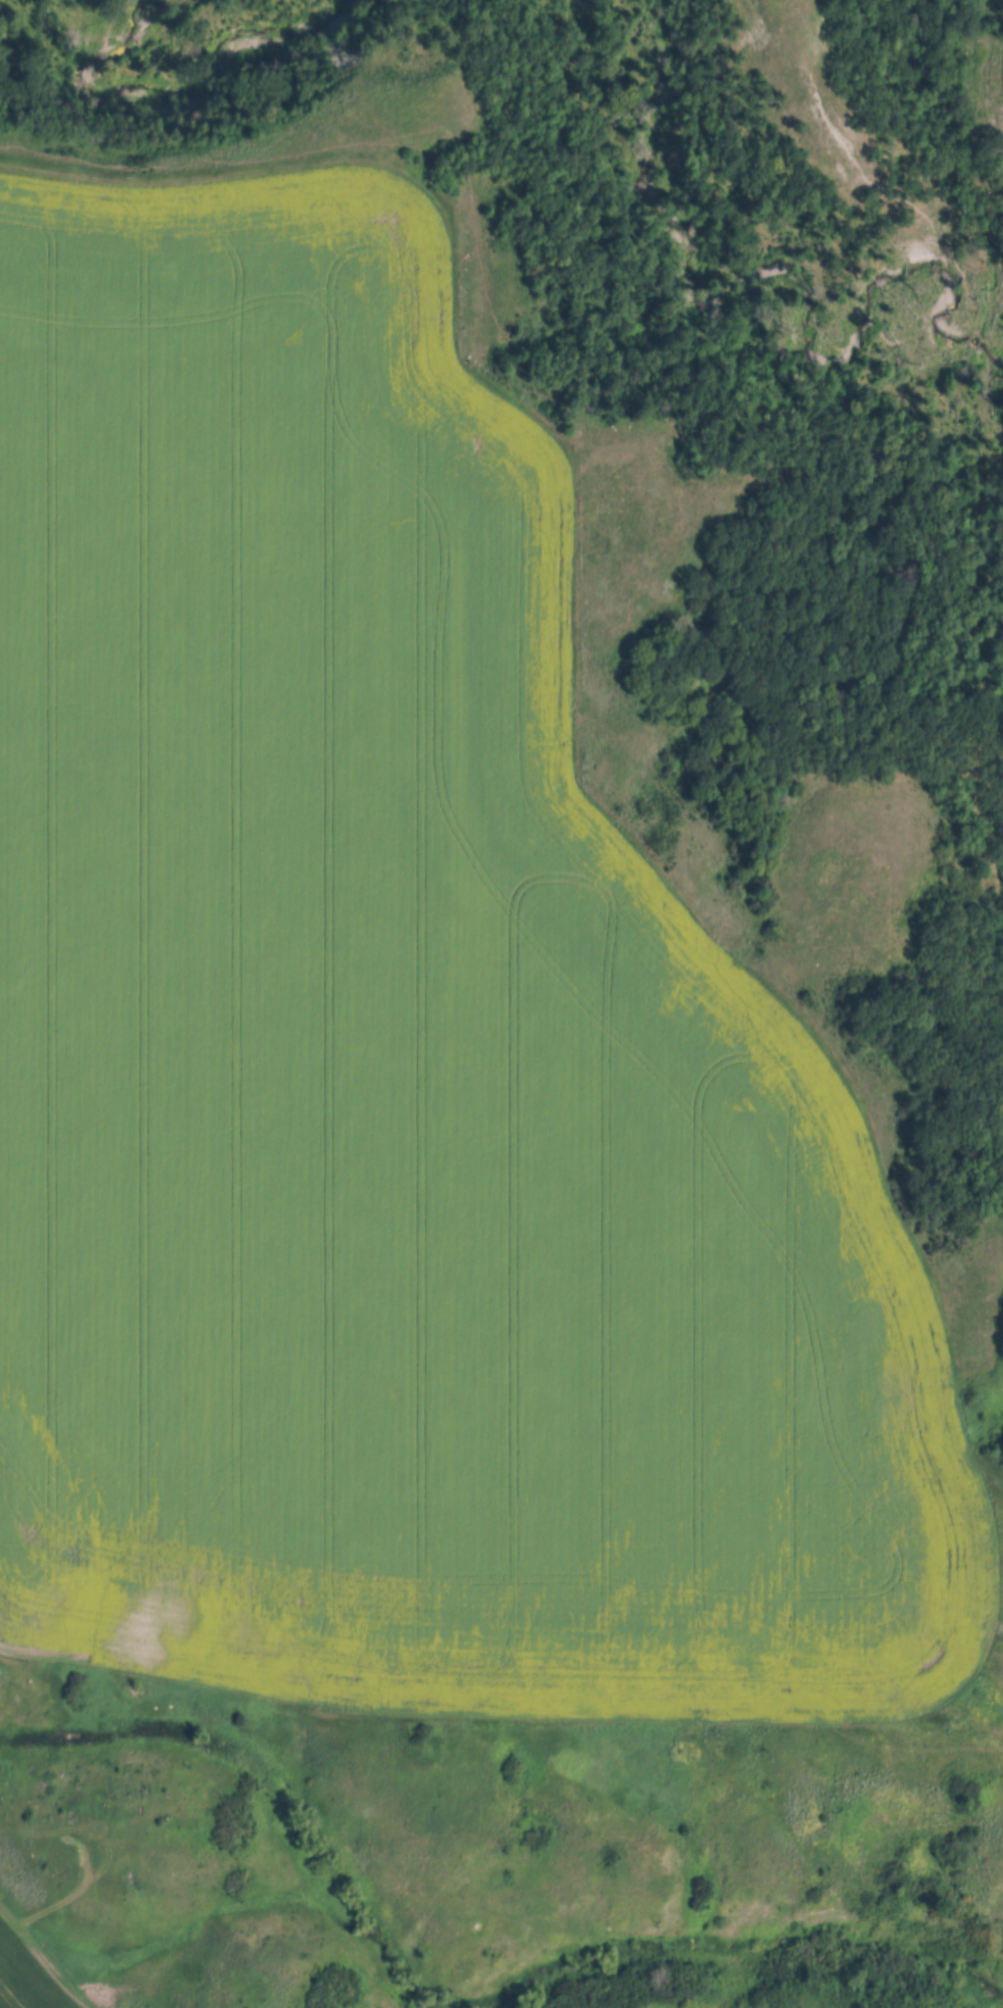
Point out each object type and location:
road: (48, 1954)

